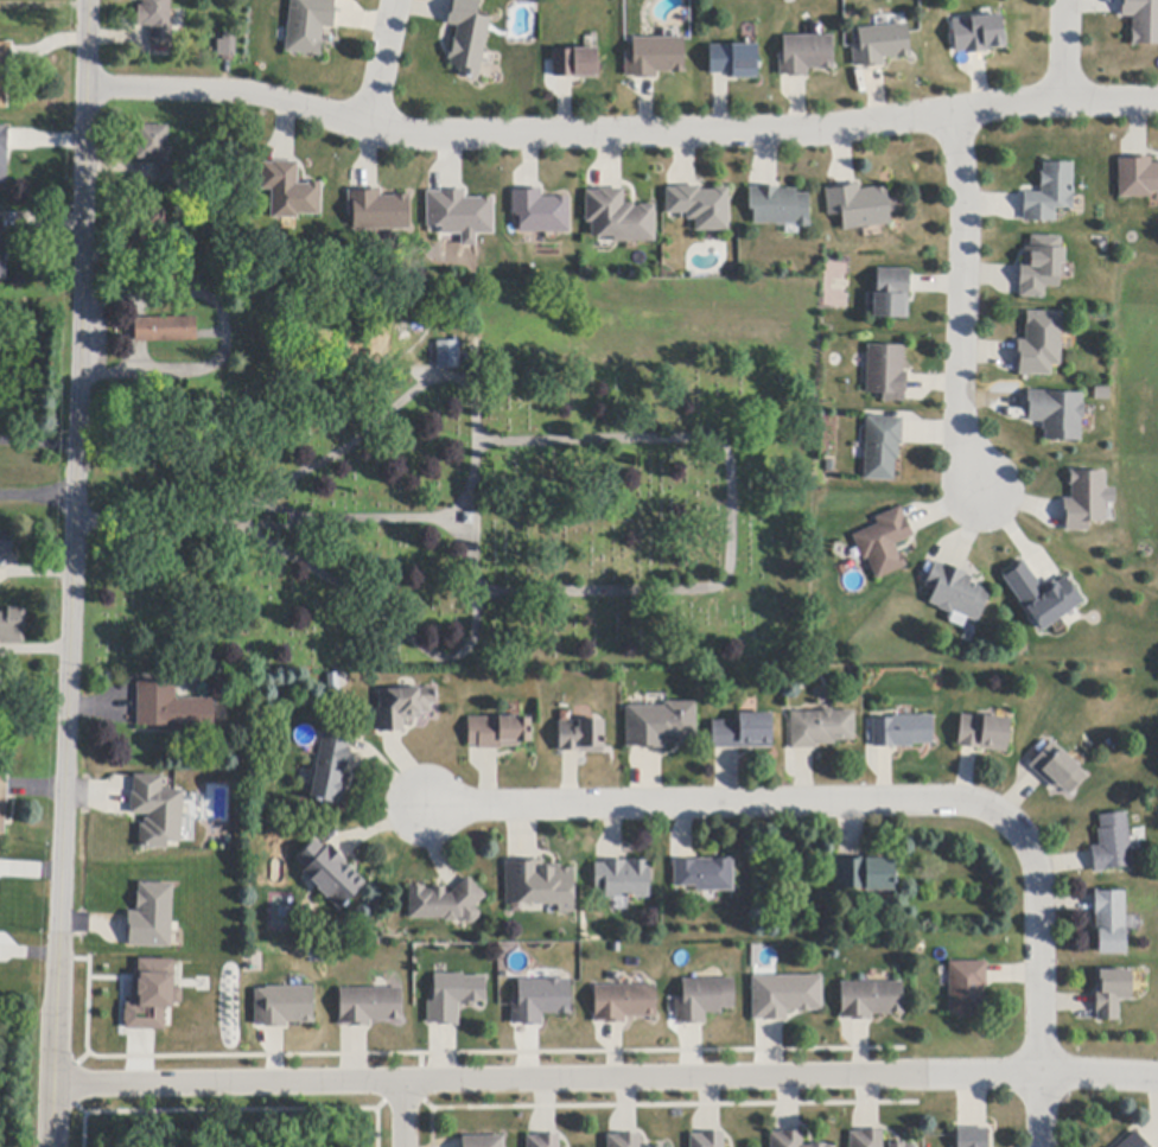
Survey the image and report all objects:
building: (1141, 19)
building: (157, 23)
building: (308, 25)
building: (978, 34)
building: (467, 37)
building: (227, 45)
building: (880, 45)
road: (1065, 52)
building: (806, 55)
building: (655, 57)
building: (734, 60)
road: (378, 64)
building: (575, 64)
building: (5, 70)
road: (619, 134)
building: (153, 142)
building: (4, 157)
building: (171, 173)
building: (1138, 178)
building: (289, 191)
building: (1050, 193)
building: (700, 206)
building: (780, 206)
building: (859, 206)
building: (378, 211)
building: (540, 212)
building: (459, 214)
building: (619, 217)
building: (149, 228)
building: (2, 251)
building: (160, 260)
building: (1041, 267)
building: (892, 294)
road: (963, 300)
building: (165, 330)
road: (222, 331)
building: (1039, 344)
building: (448, 355)
building: (886, 372)
building: (1057, 414)
road: (37, 441)
building: (882, 448)
park: (456, 484)
road: (36, 496)
building: (1084, 501)
building: (467, 520)
building: (885, 542)
building: (6, 547)
road: (69, 573)
building: (956, 592)
building: (1039, 594)
building: (13, 626)
building: (403, 707)
building: (172, 709)
building: (661, 725)
building: (821, 728)
building: (903, 731)
building: (498, 732)
building: (744, 732)
building: (984, 733)
building: (581, 737)
building: (332, 770)
building: (1057, 770)
road: (884, 803)
building: (2, 804)
building: (157, 813)
building: (1113, 843)
building: (331, 874)
building: (866, 874)
building: (705, 875)
building: (623, 879)
building: (541, 885)
building: (446, 903)
building: (152, 917)
building: (1111, 922)
building: (967, 988)
building: (1112, 994)
building: (149, 996)
building: (785, 996)
building: (454, 998)
building: (536, 998)
building: (705, 1000)
building: (871, 1000)
building: (624, 1003)
building: (284, 1005)
building: (370, 1006)
road: (605, 1079)
road: (402, 1115)
building: (973, 1138)
building: (787, 1139)
building: (866, 1139)
building: (707, 1140)
building: (483, 1141)
building: (543, 1141)
building: (624, 1141)
building: (1134, 1141)
building: (899, 1145)
building: (817, 1146)

